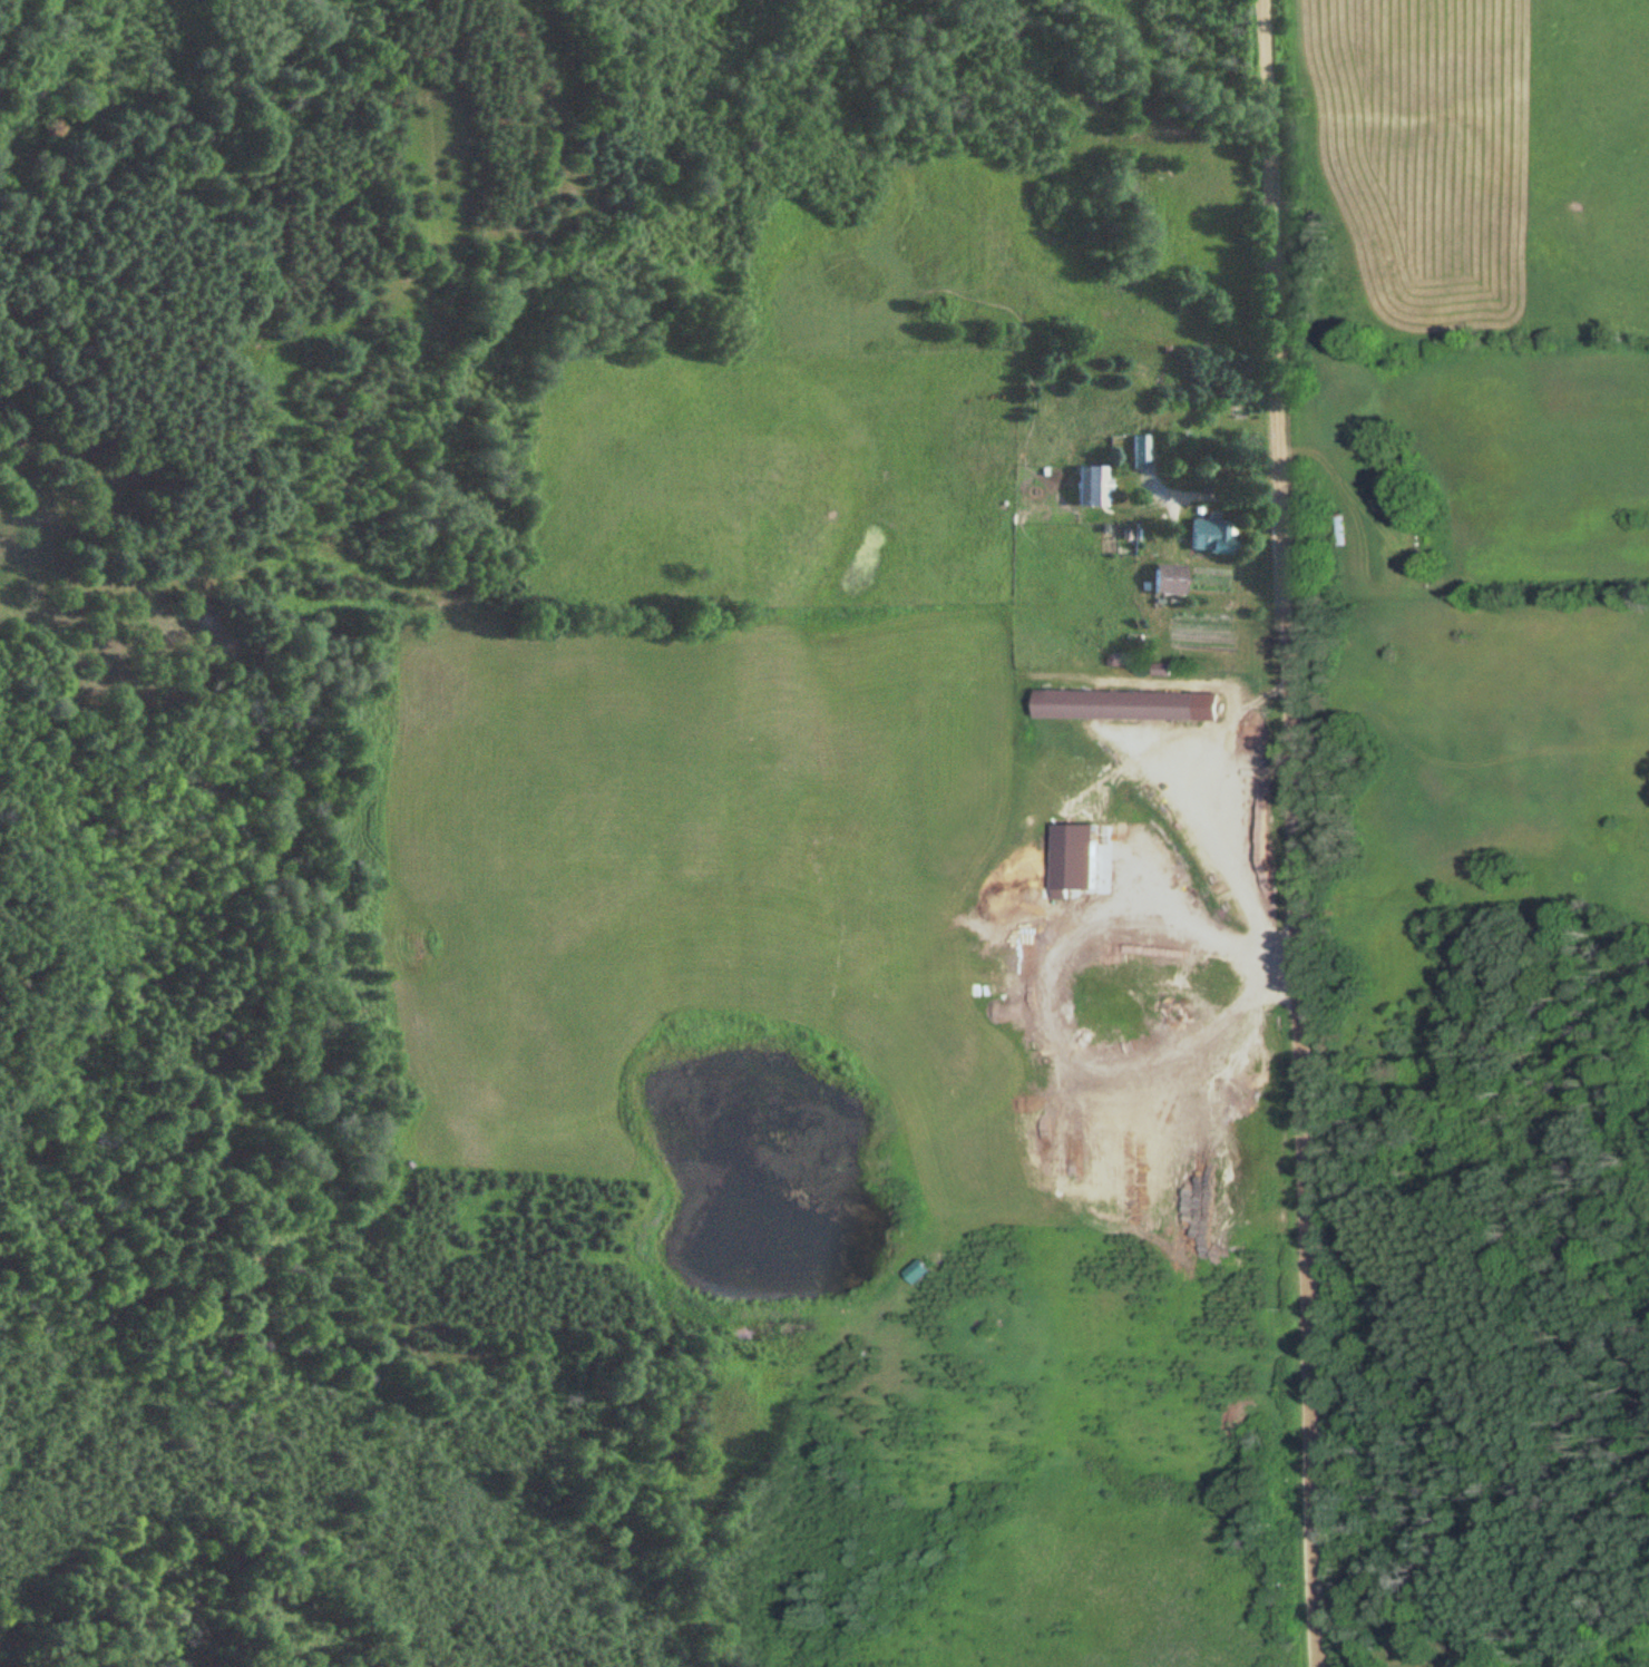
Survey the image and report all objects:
building: (1094, 486)
building: (1214, 534)
building: (1171, 579)
building: (1130, 705)
road: (1288, 833)
building: (918, 1269)

